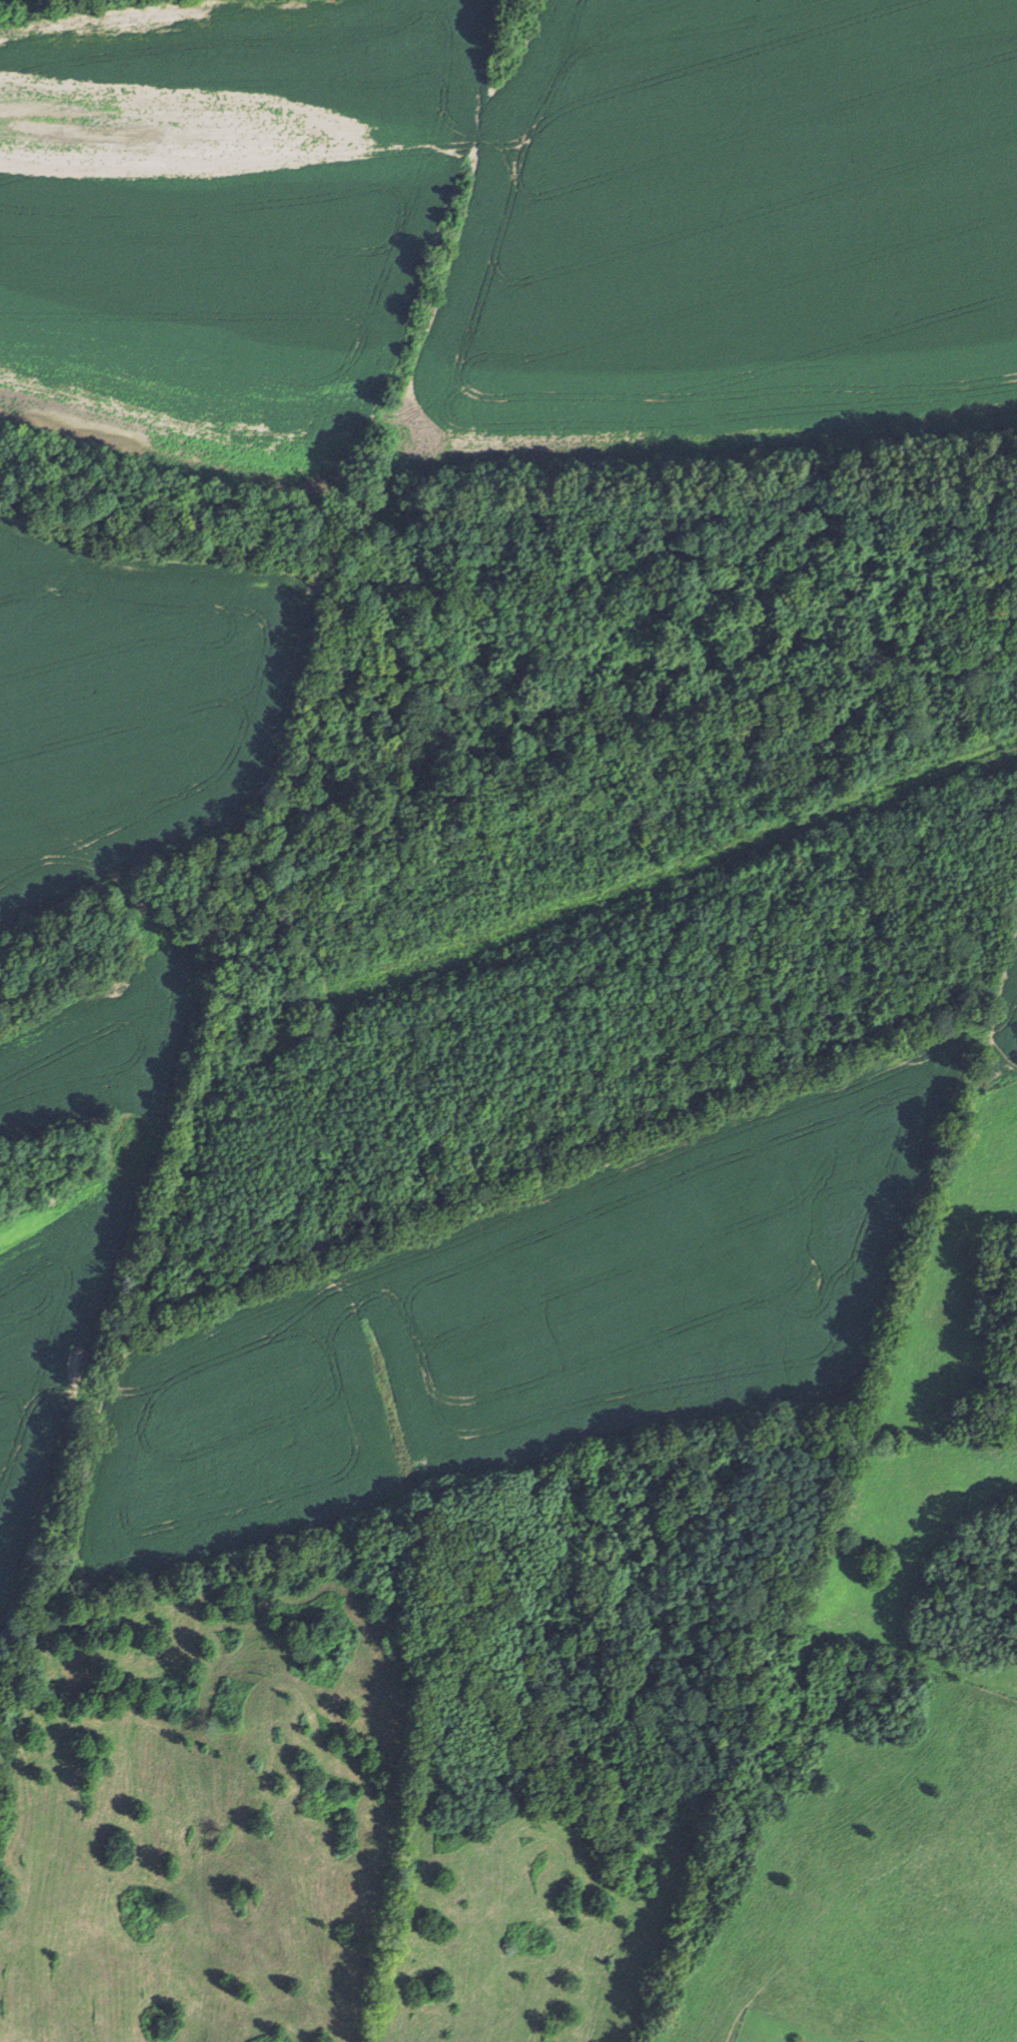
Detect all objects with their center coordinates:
road: (965, 1810)

